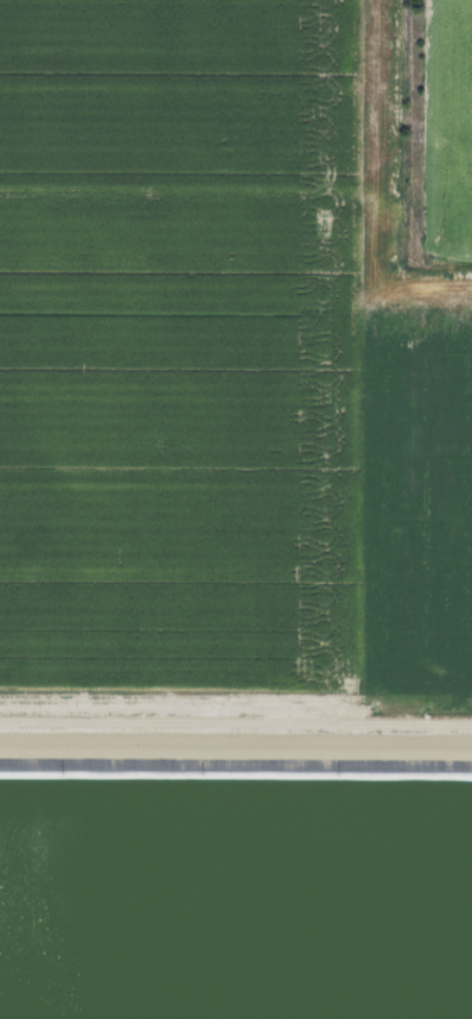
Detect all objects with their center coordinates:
road: (236, 722)
road: (236, 740)
crop: (236, 865)

